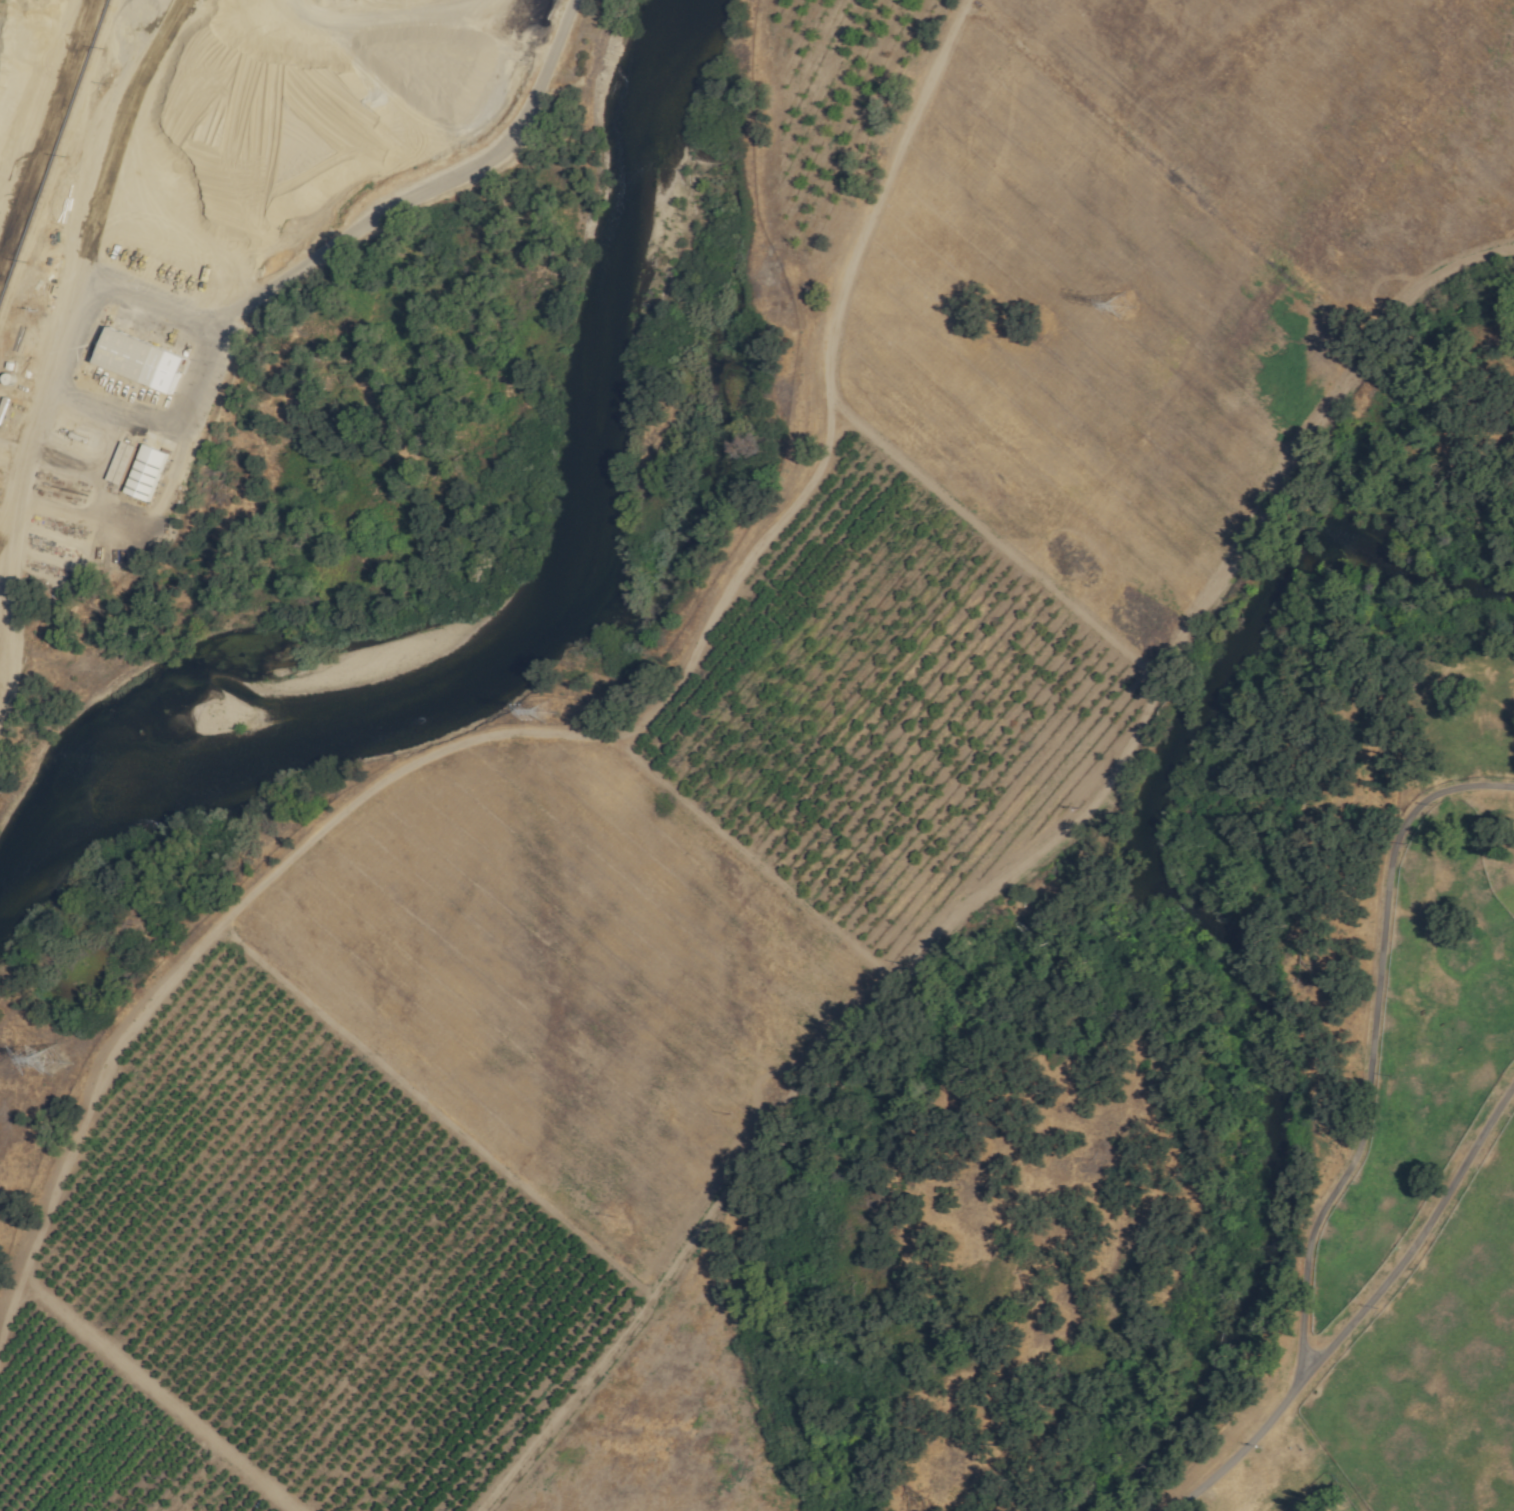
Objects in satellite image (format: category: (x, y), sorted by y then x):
road: (425, 190)
quarry: (216, 249)
crop: (1169, 263)
power tower: (1123, 307)
building: (145, 360)
building: (125, 464)
building: (150, 473)
river: (535, 618)
power tower: (548, 711)
river: (1211, 940)
power tower: (54, 1061)
crop: (582, 1067)
road: (1360, 1135)
road: (1415, 1241)
crop: (1425, 1344)

